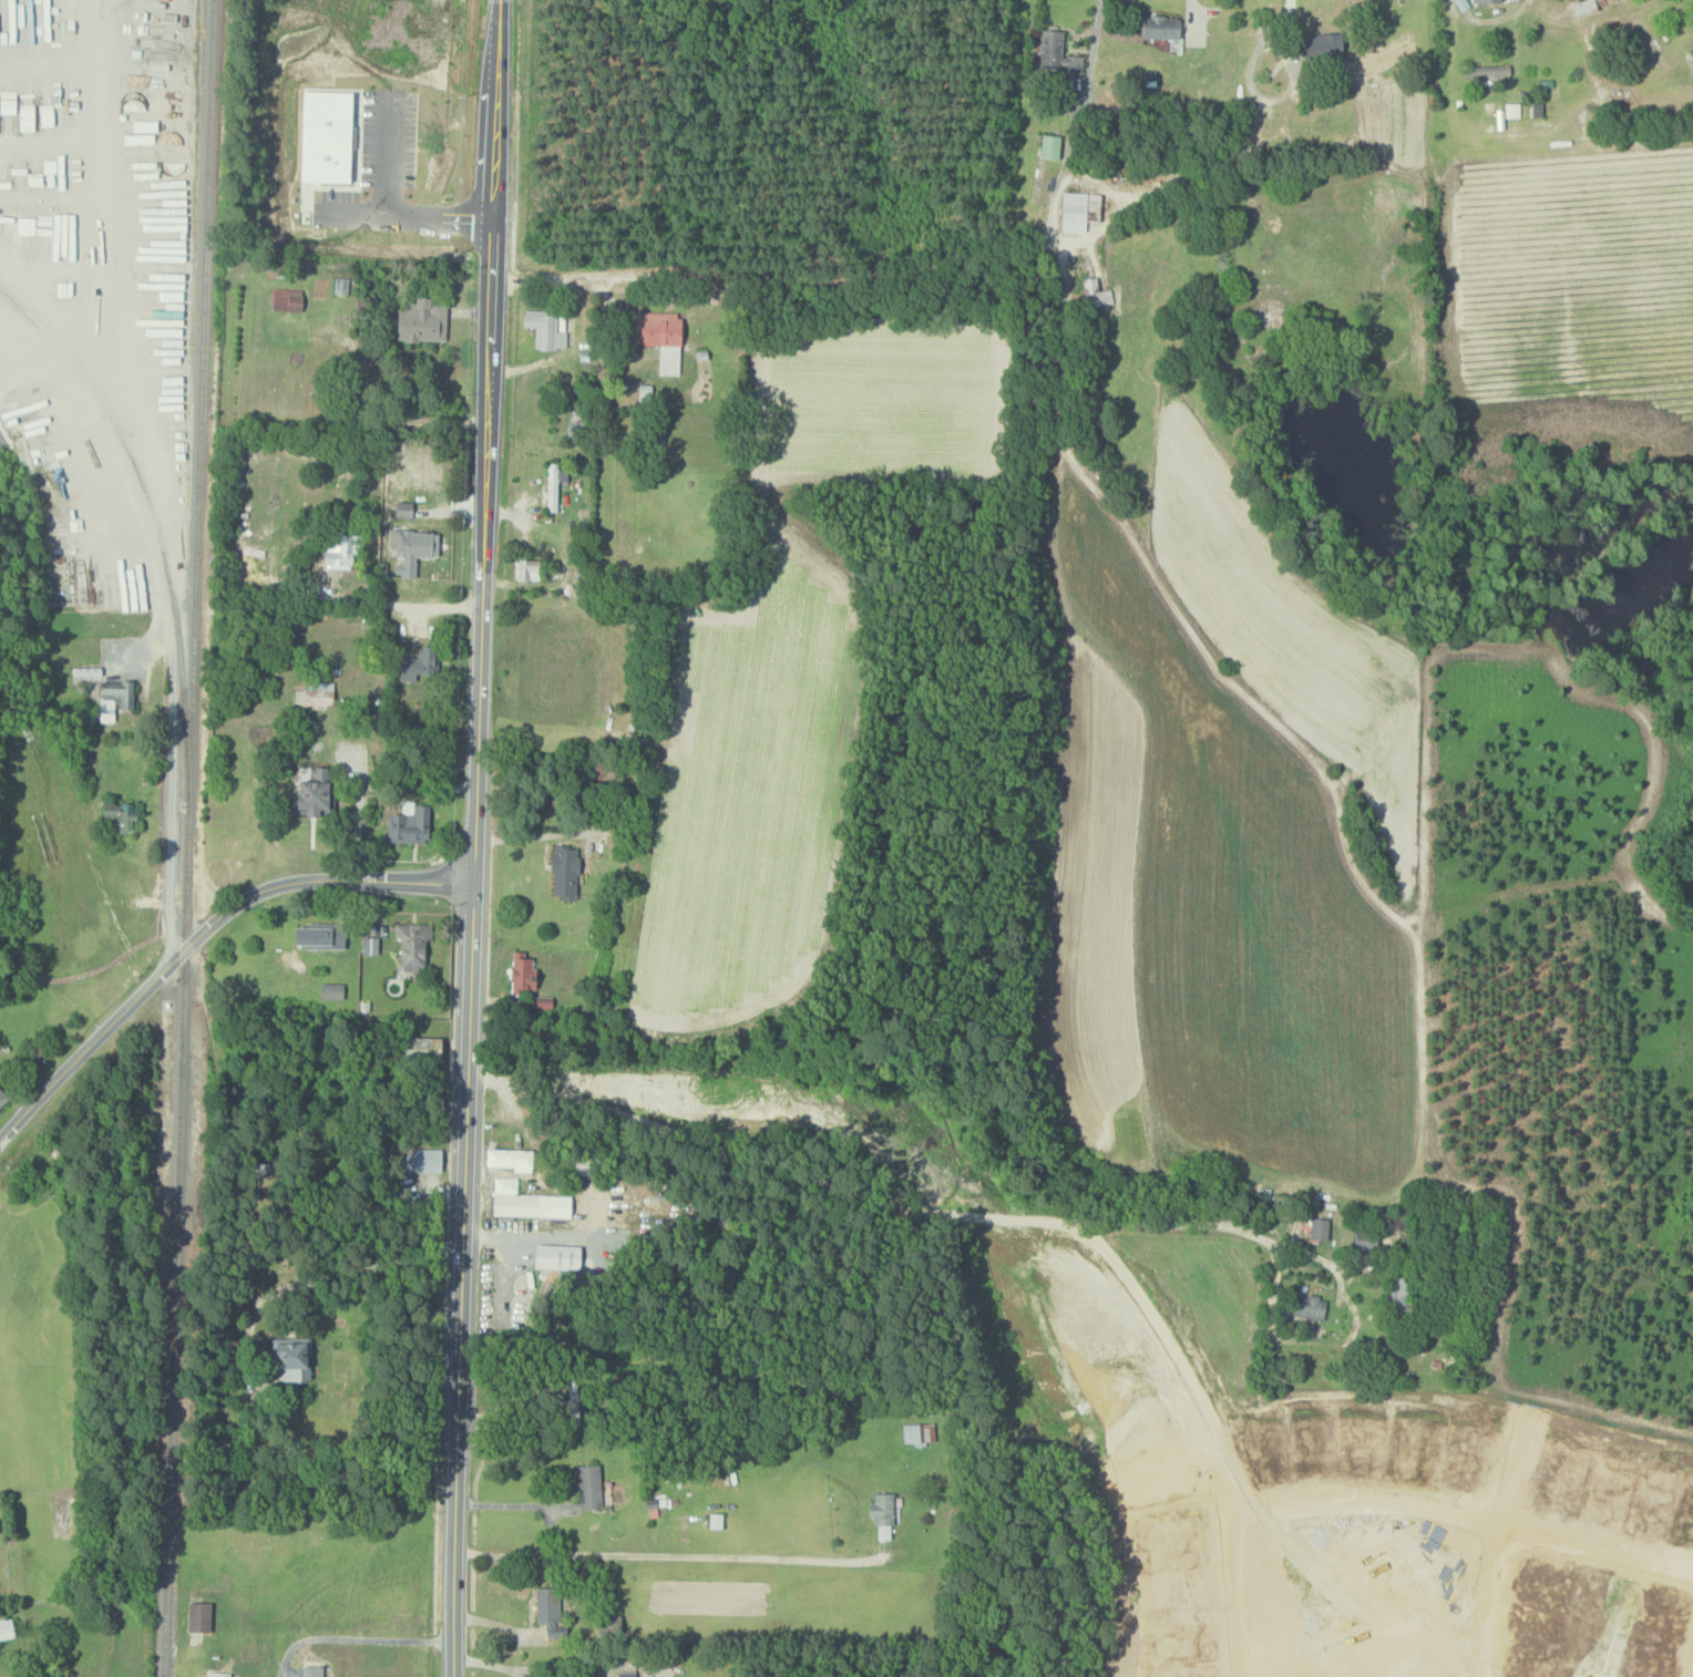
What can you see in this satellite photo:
building: (1484, 1)
building: (1582, 7)
road: (1486, 19)
building: (1162, 29)
building: (1320, 47)
building: (1057, 53)
building: (1050, 146)
road: (1230, 155)
road: (410, 206)
building: (1079, 209)
road: (776, 279)
building: (287, 299)
building: (421, 321)
building: (545, 331)
building: (661, 338)
road: (55, 356)
road: (140, 481)
building: (554, 485)
railway: (154, 518)
building: (413, 551)
building: (337, 552)
building: (526, 568)
road: (402, 594)
road: (1161, 616)
building: (417, 663)
building: (315, 692)
building: (314, 792)
building: (119, 815)
road: (360, 821)
building: (408, 823)
railway: (191, 838)
road: (474, 838)
building: (566, 871)
building: (319, 936)
road: (201, 938)
building: (412, 943)
building: (370, 945)
building: (522, 971)
road: (638, 1037)
building: (421, 1048)
building: (510, 1159)
building: (422, 1160)
building: (526, 1201)
road: (993, 1221)
road: (1190, 1224)
building: (1320, 1228)
building: (556, 1256)
road: (337, 1275)
building: (1397, 1290)
building: (1309, 1307)
building: (289, 1356)
building: (589, 1485)
road: (507, 1504)
building: (882, 1514)
road: (1474, 1521)
road: (1495, 1543)
road: (663, 1554)
building: (608, 1607)
building: (550, 1611)
building: (199, 1616)
building: (6, 1627)
road: (356, 1638)
road: (489, 1664)
building: (312, 1670)
building: (627, 1673)
building: (217, 1674)

